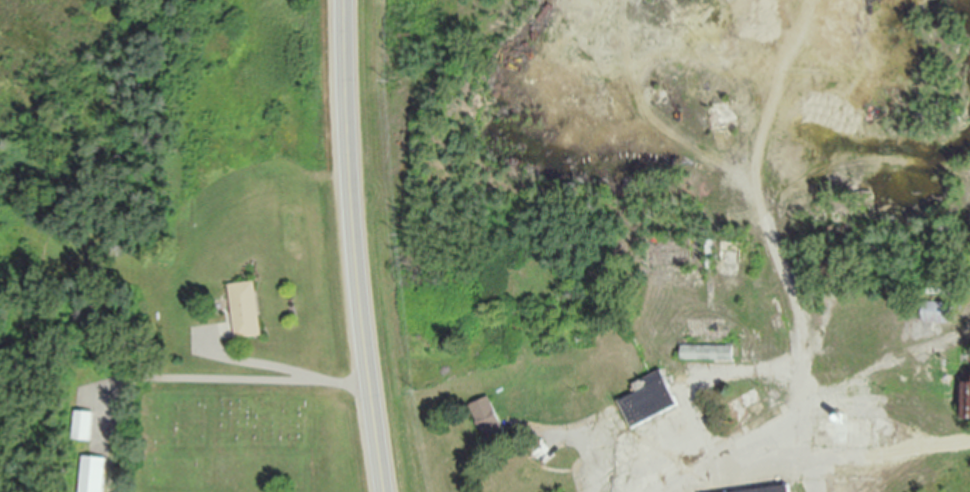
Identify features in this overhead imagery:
road: (353, 246)
building: (247, 311)
building: (939, 314)
building: (708, 354)
road: (236, 378)
building: (968, 396)
building: (650, 402)
building: (748, 406)
building: (489, 421)
park: (228, 425)
building: (85, 427)
road: (588, 446)
road: (719, 450)
building: (531, 463)
building: (95, 475)
building: (783, 491)

